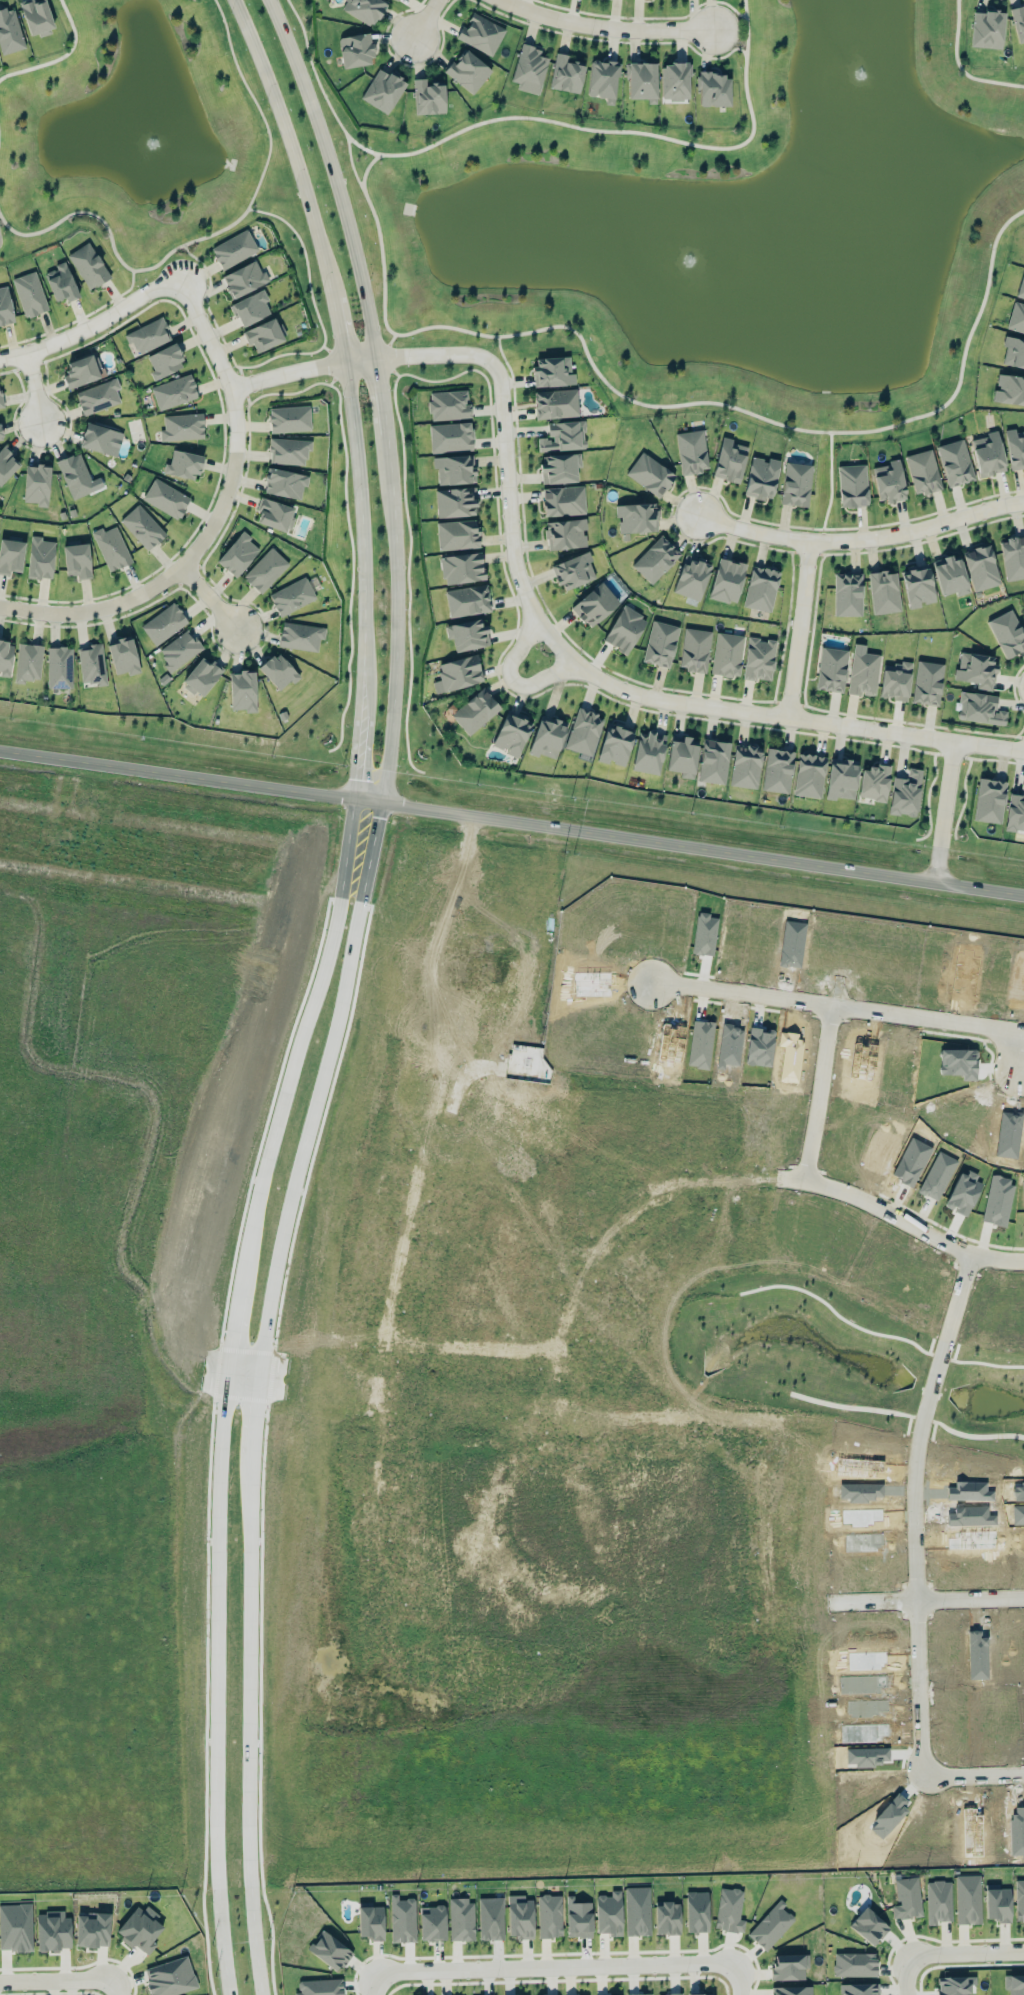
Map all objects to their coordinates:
building: (397, 0)
building: (364, 9)
building: (36, 16)
road: (424, 20)
building: (1018, 22)
building: (987, 29)
road: (604, 30)
building: (10, 31)
building: (481, 34)
building: (356, 50)
road: (60, 56)
road: (961, 66)
building: (529, 69)
building: (468, 71)
building: (566, 74)
fountain: (862, 76)
building: (603, 79)
building: (642, 81)
building: (675, 81)
building: (714, 89)
building: (383, 90)
building: (428, 97)
road: (541, 119)
fountain: (155, 143)
road: (290, 147)
road: (351, 159)
road: (333, 175)
road: (212, 234)
building: (234, 249)
fountain: (695, 259)
building: (88, 265)
building: (244, 279)
building: (61, 282)
building: (1021, 287)
building: (30, 293)
building: (5, 307)
building: (251, 308)
building: (1016, 318)
road: (76, 319)
road: (94, 325)
road: (339, 330)
building: (264, 334)
building: (148, 335)
road: (384, 345)
building: (1013, 352)
road: (434, 355)
building: (164, 361)
road: (301, 369)
building: (82, 371)
building: (552, 371)
road: (35, 387)
building: (1009, 389)
building: (174, 391)
road: (376, 395)
building: (98, 396)
building: (1, 400)
building: (555, 403)
road: (666, 404)
building: (449, 405)
building: (289, 418)
building: (182, 427)
building: (1, 432)
building: (563, 436)
building: (450, 437)
building: (97, 438)
building: (1015, 448)
building: (289, 450)
building: (691, 451)
building: (988, 454)
building: (729, 460)
building: (955, 462)
building: (7, 463)
building: (183, 464)
building: (560, 468)
building: (454, 469)
building: (923, 471)
building: (650, 474)
building: (75, 475)
building: (761, 478)
building: (889, 481)
building: (285, 483)
building: (36, 484)
building: (796, 484)
building: (852, 485)
road: (830, 488)
building: (166, 498)
building: (563, 500)
building: (456, 502)
road: (510, 505)
building: (274, 514)
road: (215, 516)
building: (637, 517)
building: (142, 527)
building: (566, 533)
building: (457, 534)
road: (361, 538)
road: (860, 540)
building: (111, 547)
building: (11, 554)
building: (238, 554)
building: (40, 557)
building: (1013, 557)
building: (655, 559)
building: (77, 560)
building: (981, 567)
building: (462, 568)
building: (265, 570)
building: (573, 571)
building: (950, 576)
building: (692, 577)
building: (727, 580)
building: (917, 585)
building: (761, 588)
building: (884, 591)
building: (847, 594)
building: (292, 596)
road: (210, 598)
building: (467, 600)
building: (595, 604)
road: (394, 618)
building: (164, 623)
building: (624, 629)
road: (803, 629)
building: (1007, 633)
building: (467, 635)
building: (300, 636)
building: (660, 643)
building: (179, 649)
building: (694, 649)
building: (726, 654)
building: (123, 656)
building: (5, 657)
building: (759, 658)
building: (28, 662)
building: (92, 664)
building: (59, 667)
building: (831, 669)
building: (976, 670)
building: (278, 671)
building: (460, 672)
building: (863, 673)
building: (202, 676)
road: (514, 678)
building: (895, 680)
building: (927, 682)
building: (242, 690)
building: (979, 708)
building: (475, 711)
road: (780, 713)
building: (511, 732)
building: (584, 732)
building: (547, 737)
building: (615, 743)
building: (648, 752)
building: (682, 756)
road: (362, 757)
building: (713, 761)
building: (745, 766)
building: (777, 770)
road: (178, 774)
building: (809, 775)
building: (841, 779)
building: (873, 782)
building: (905, 793)
building: (989, 800)
road: (946, 812)
building: (1015, 813)
road: (689, 847)
road: (838, 1007)
road: (26, 1022)
road: (298, 1044)
road: (1018, 1051)
road: (312, 1080)
road: (161, 1094)
road: (619, 1165)
road: (834, 1188)
road: (116, 1258)
road: (607, 1300)
road: (233, 1324)
road: (190, 1355)
road: (240, 1360)
road: (155, 1362)
road: (382, 1363)
road: (224, 1371)
road: (251, 1374)
road: (406, 1375)
road: (185, 1381)
road: (236, 1386)
road: (404, 1401)
road: (247, 1420)
road: (916, 1552)
road: (212, 1571)
road: (882, 1598)
road: (241, 1608)
road: (566, 1658)
road: (475, 1788)
road: (217, 1876)
road: (250, 1880)
building: (907, 1898)
building: (968, 1899)
building: (1019, 1900)
building: (938, 1901)
building: (997, 1903)
building: (637, 1910)
building: (729, 1910)
building: (696, 1911)
building: (609, 1913)
building: (549, 1915)
building: (578, 1917)
building: (667, 1917)
building: (491, 1918)
building: (520, 1918)
building: (402, 1919)
building: (461, 1919)
building: (370, 1920)
building: (432, 1922)
building: (771, 1925)
building: (868, 1925)
building: (15, 1927)
building: (140, 1928)
building: (93, 1929)
building: (53, 1930)
building: (330, 1950)
road: (965, 1954)
building: (854, 1964)
building: (789, 1967)
road: (567, 1968)
road: (906, 1975)
building: (170, 1977)
road: (58, 1980)
road: (379, 1980)
building: (1014, 1984)
building: (952, 1985)
road: (736, 1986)
road: (118, 1987)
building: (320, 1987)
building: (858, 1989)
building: (791, 1990)
building: (610, 1994)
building: (639, 1994)
building: (670, 1994)
building: (695, 1994)

